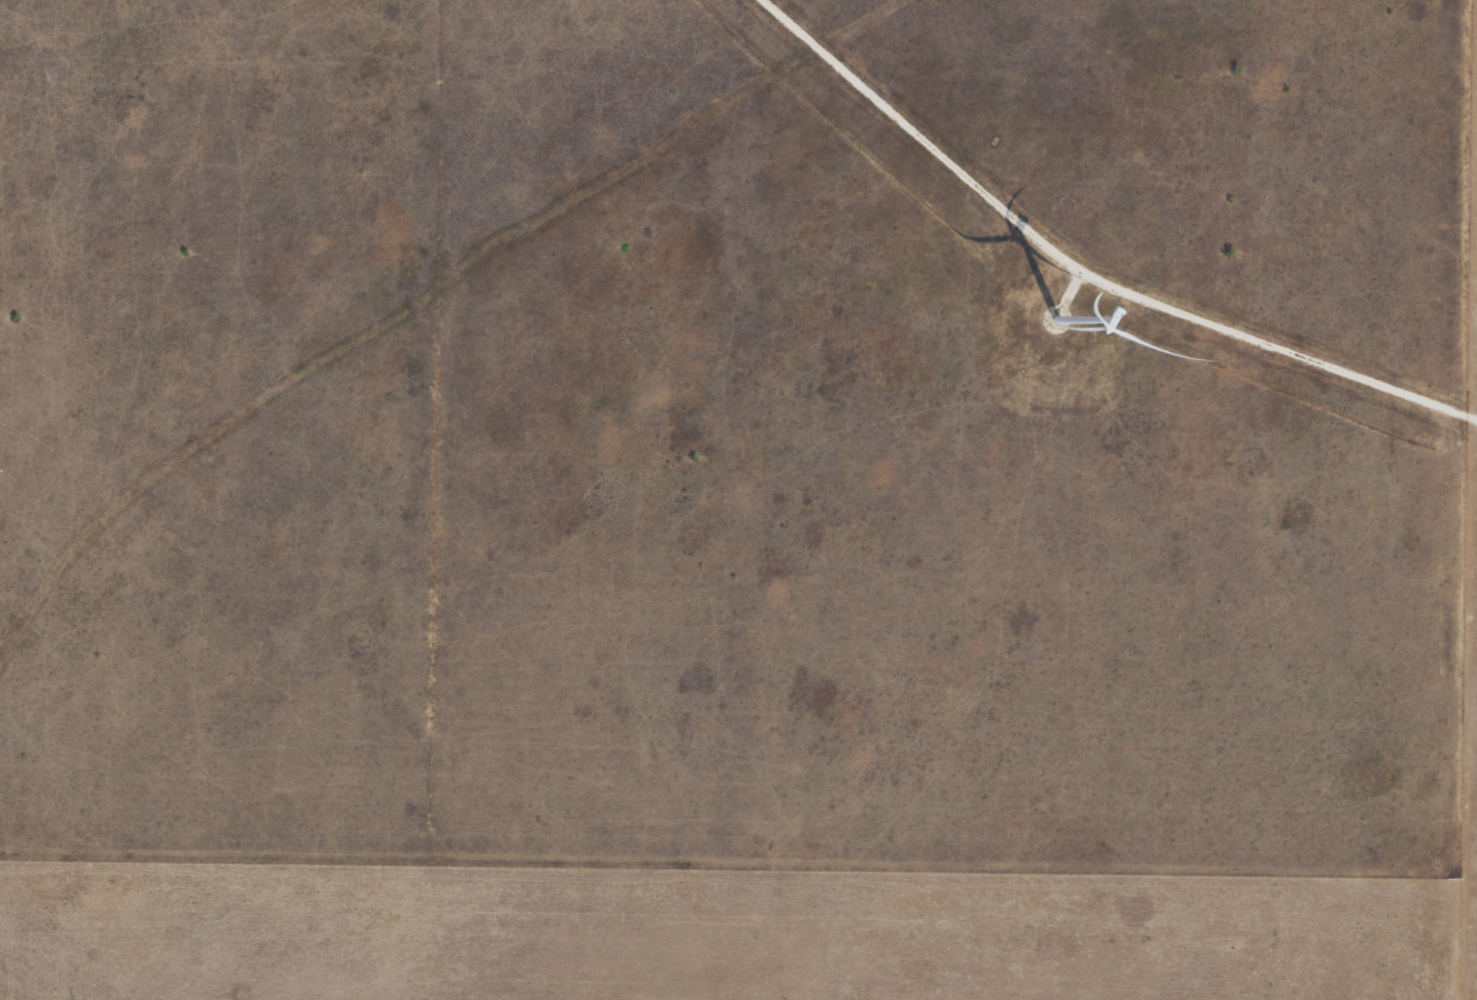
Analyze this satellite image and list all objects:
wind turbine: (1056, 320)

